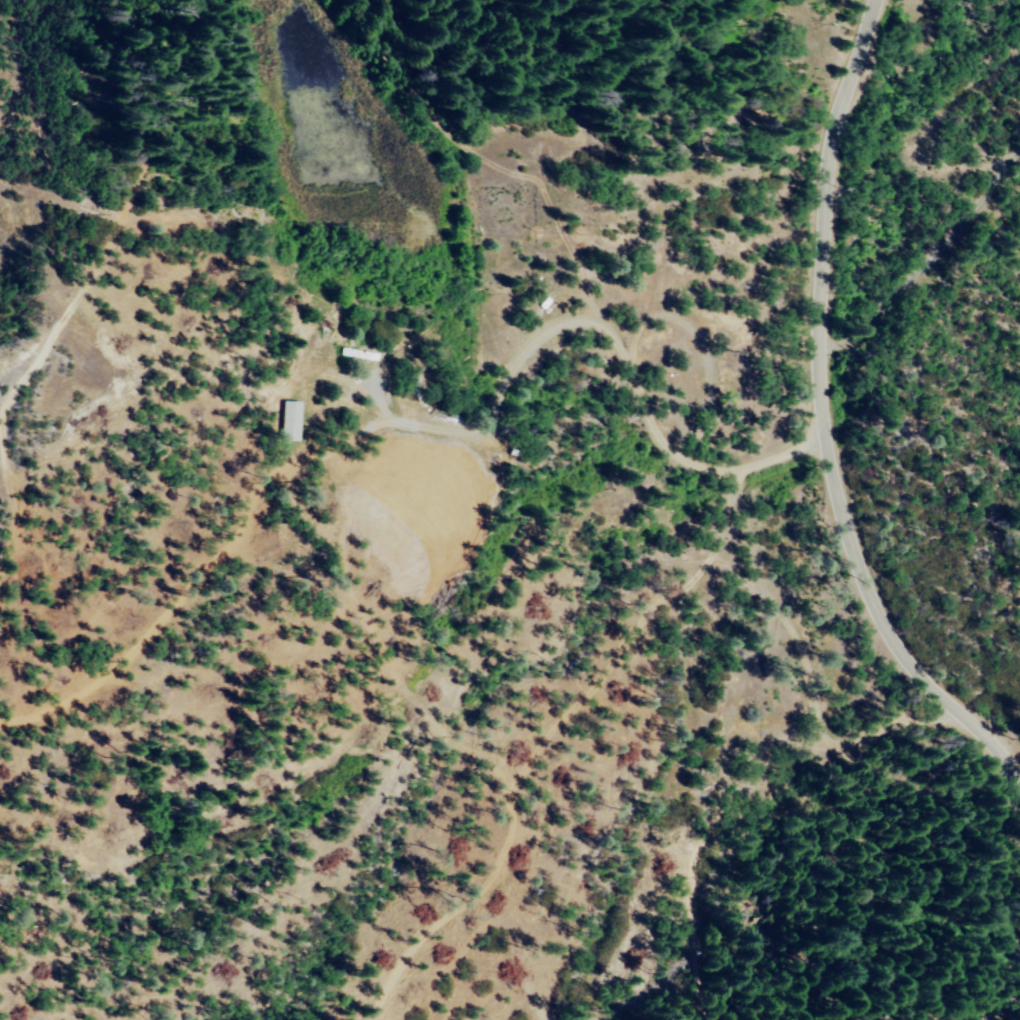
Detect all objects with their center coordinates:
road: (899, 267)
building: (289, 420)
road: (731, 523)
road: (378, 614)
road: (500, 633)
road: (481, 789)
road: (600, 880)
road: (786, 901)

